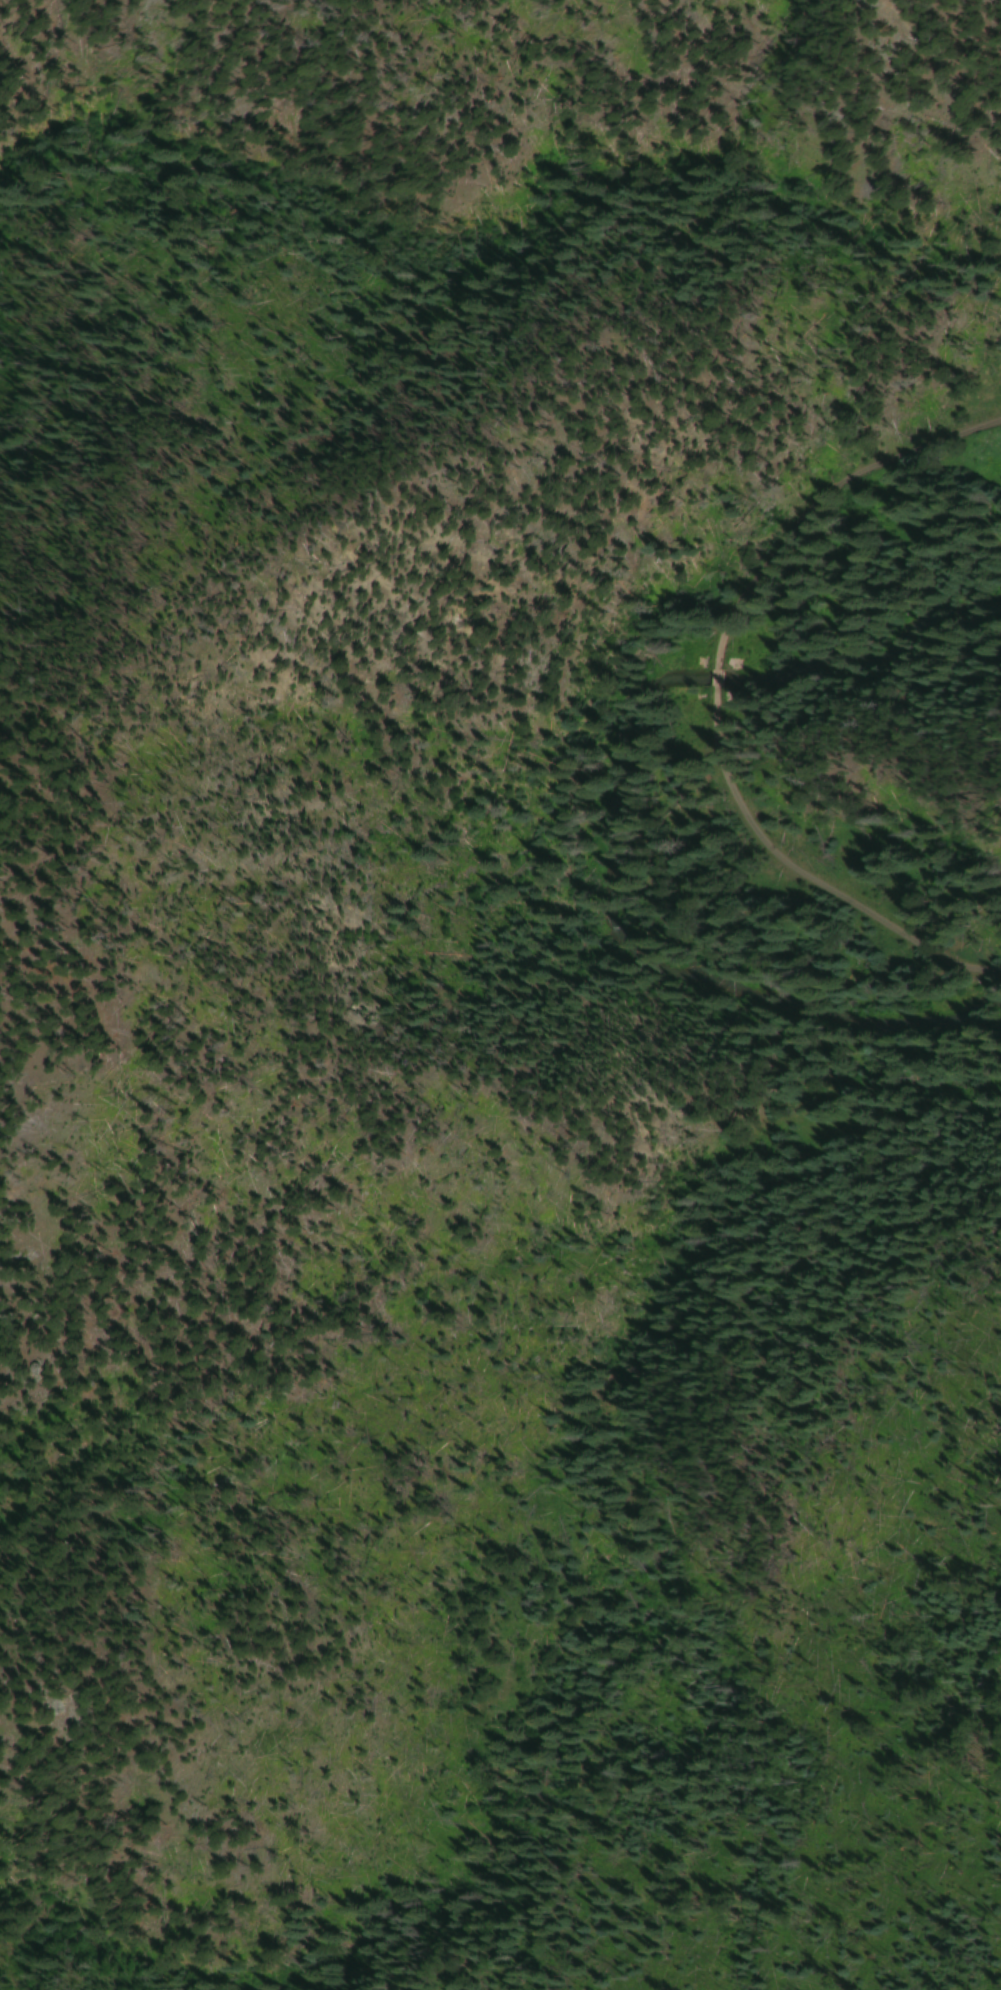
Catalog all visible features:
road: (825, 492)
road: (717, 680)
river: (601, 824)
road: (816, 876)

